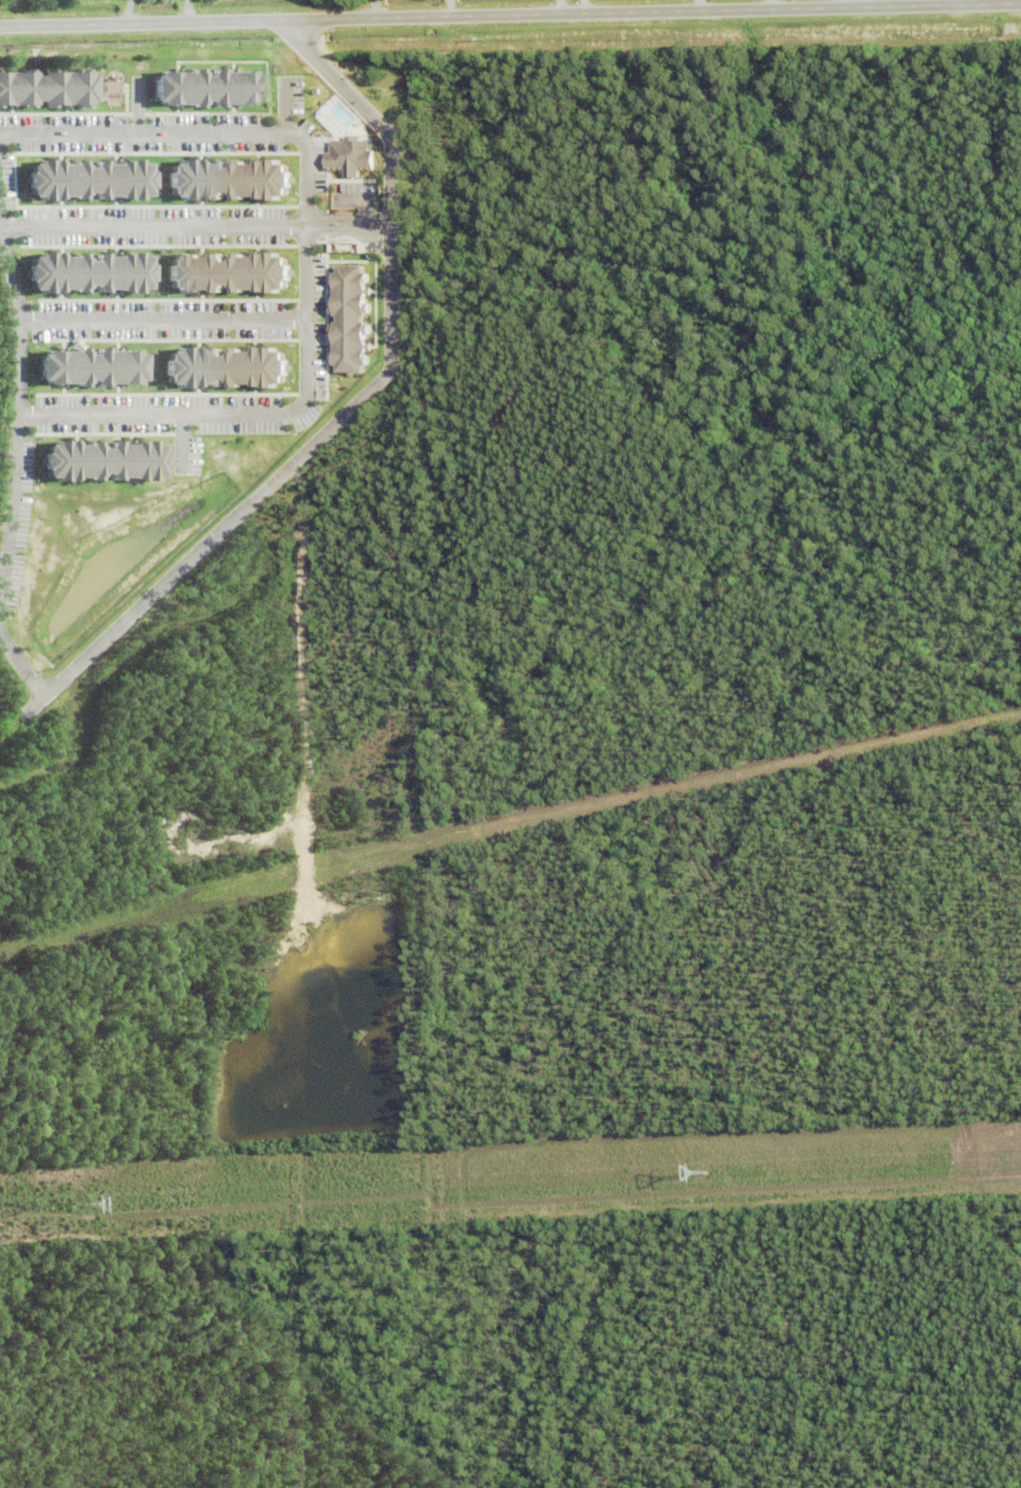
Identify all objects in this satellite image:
road: (958, 2)
road: (510, 13)
building: (200, 87)
building: (45, 88)
building: (346, 156)
building: (82, 180)
building: (222, 180)
road: (349, 218)
road: (155, 226)
road: (350, 231)
road: (308, 260)
building: (82, 273)
building: (220, 273)
road: (18, 311)
building: (346, 319)
road: (163, 320)
building: (84, 367)
building: (219, 368)
road: (350, 412)
building: (98, 461)
road: (8, 563)
power tower: (709, 1176)
power tower: (77, 1204)

